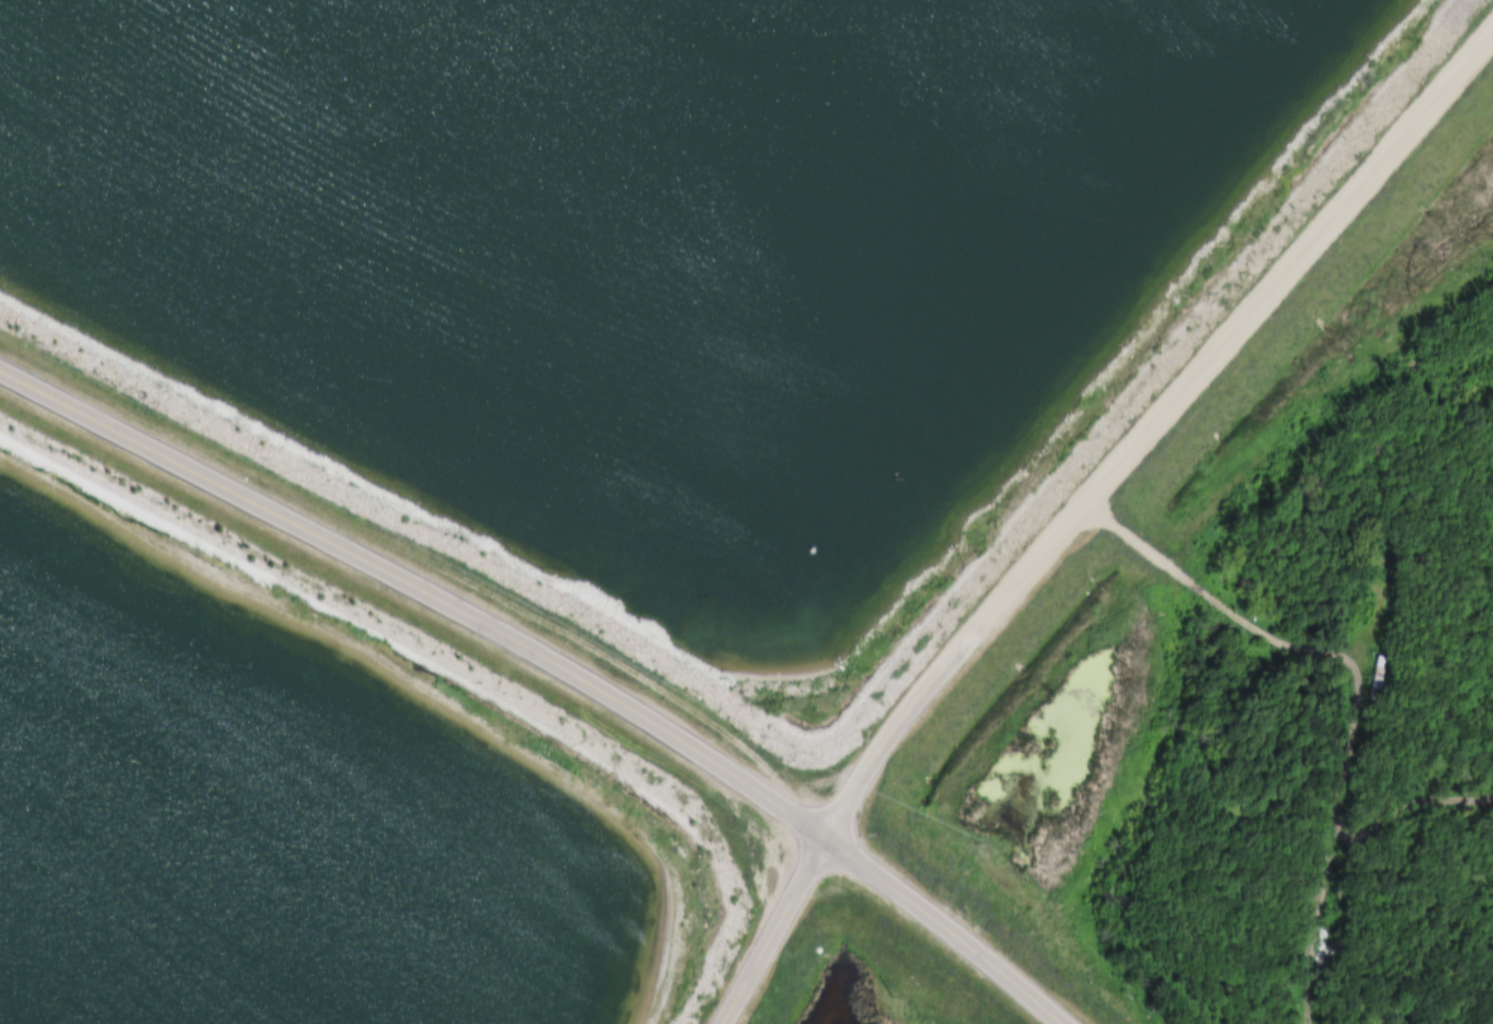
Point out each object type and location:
road: (1217, 310)
building: (1387, 567)
road: (577, 624)
building: (1371, 677)
road: (781, 810)

